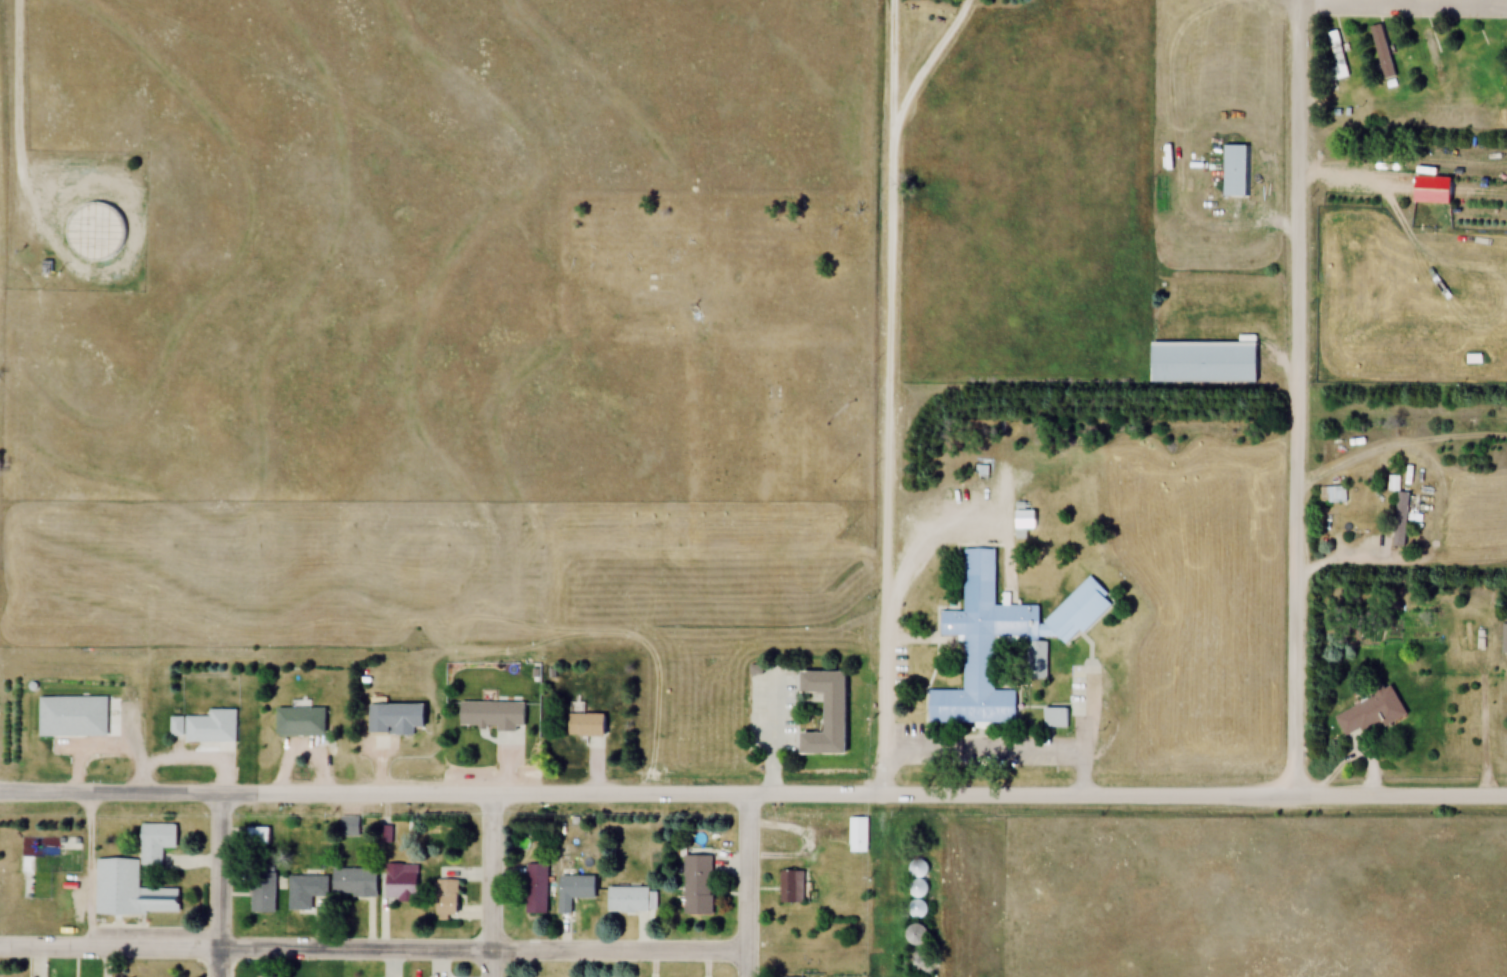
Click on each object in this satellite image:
road: (1401, 2)
building: (1380, 51)
building: (1428, 52)
building: (1334, 54)
road: (926, 66)
road: (890, 67)
road: (16, 80)
road: (1294, 169)
building: (1237, 170)
building: (96, 232)
road: (36, 254)
building: (1205, 362)
road: (883, 465)
building: (979, 474)
building: (1332, 494)
building: (1398, 513)
road: (927, 537)
road: (1399, 565)
road: (1292, 566)
building: (1001, 639)
building: (1503, 642)
road: (646, 664)
building: (829, 713)
building: (1369, 713)
building: (493, 714)
building: (399, 717)
building: (1054, 717)
building: (301, 722)
building: (589, 724)
building: (205, 726)
road: (644, 793)
road: (1397, 795)
building: (858, 834)
building: (259, 836)
building: (157, 842)
road: (86, 869)
building: (356, 882)
building: (402, 882)
building: (698, 884)
road: (216, 885)
road: (486, 885)
road: (743, 885)
building: (791, 886)
building: (917, 888)
building: (535, 889)
building: (574, 890)
building: (131, 891)
building: (307, 891)
building: (265, 892)
building: (448, 897)
building: (628, 900)
building: (917, 932)
road: (371, 950)
building: (920, 963)

